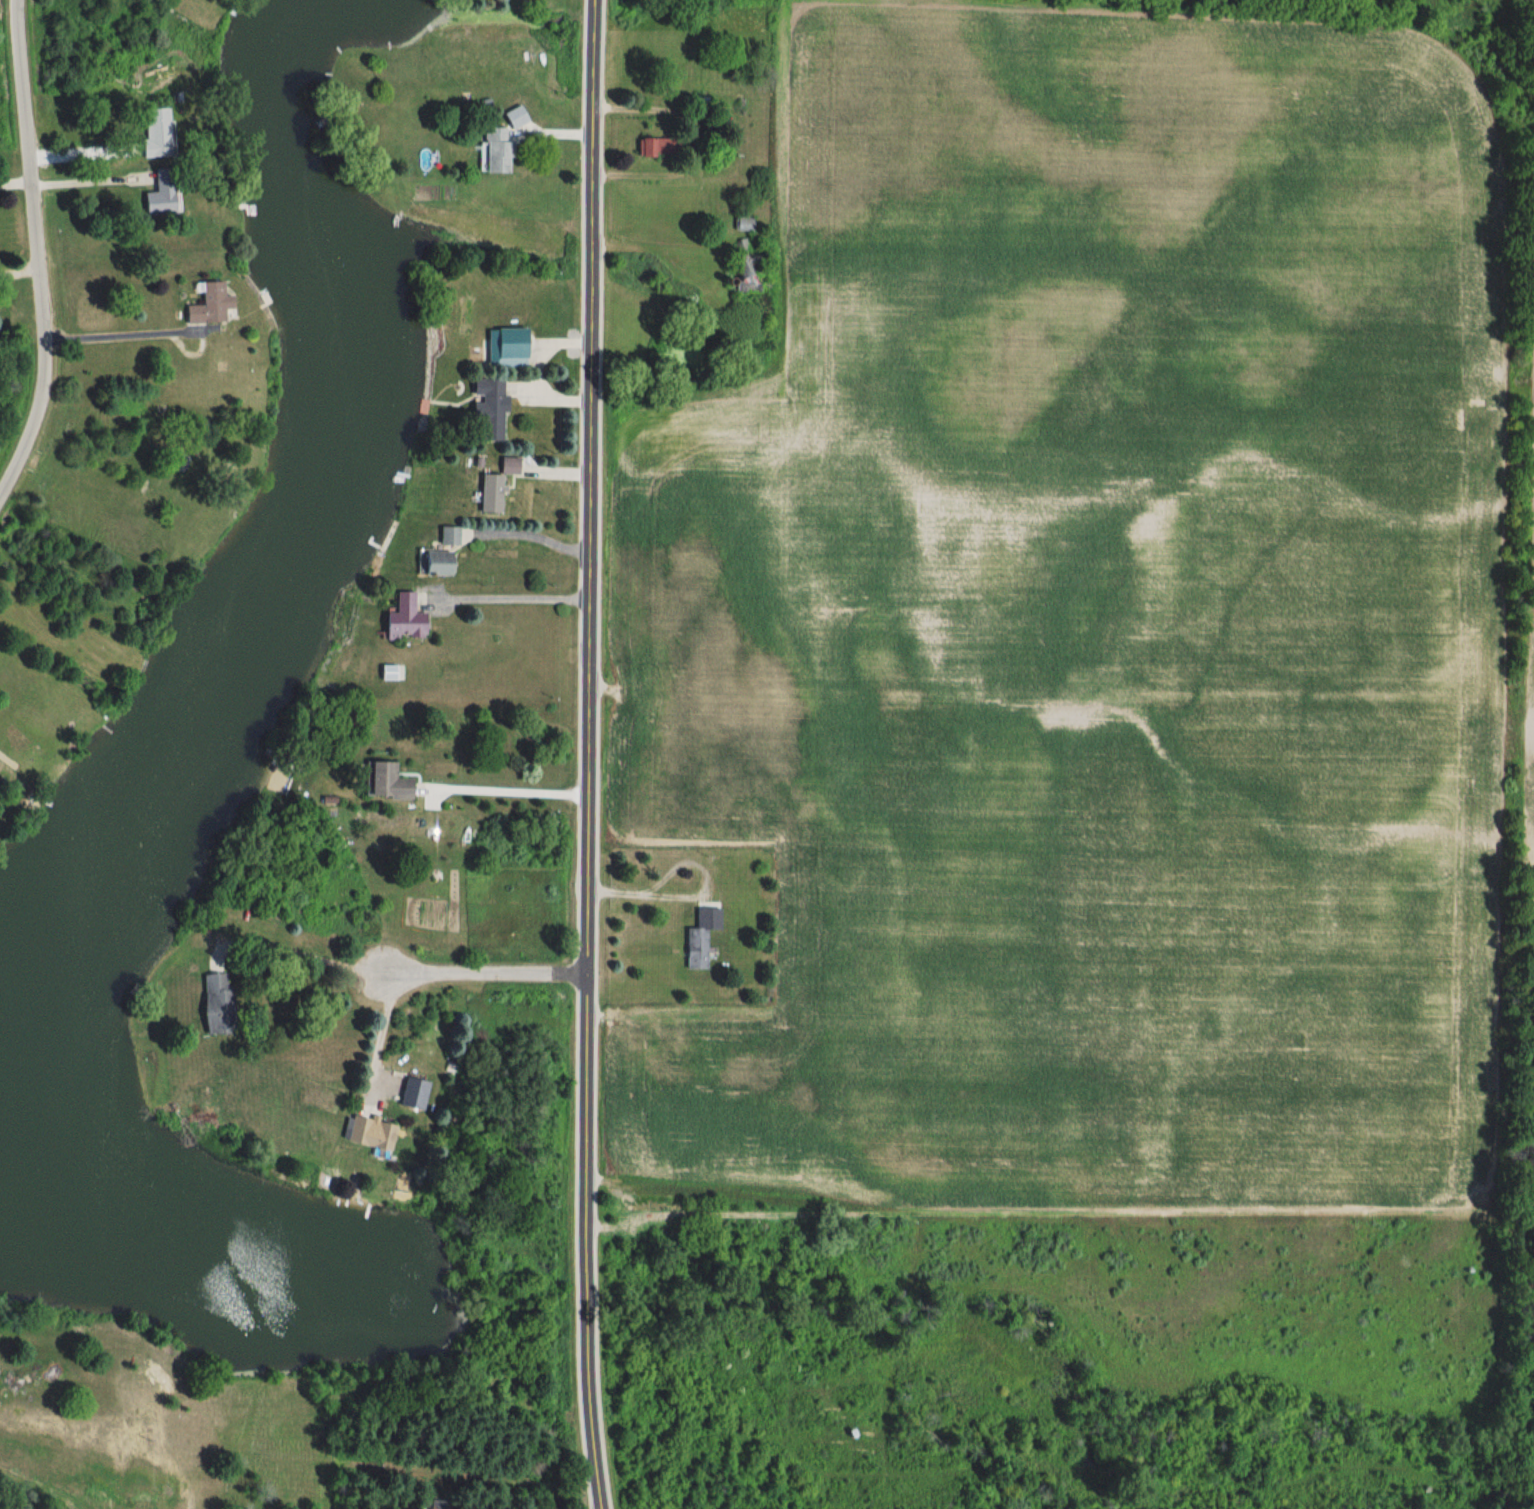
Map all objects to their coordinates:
building: (696, 101)
building: (154, 131)
building: (658, 147)
building: (496, 149)
road: (87, 181)
building: (158, 193)
building: (744, 223)
road: (38, 253)
building: (749, 271)
building: (207, 305)
road: (149, 333)
building: (489, 411)
building: (508, 465)
building: (489, 493)
road: (532, 535)
building: (447, 536)
building: (435, 563)
road: (511, 596)
building: (403, 619)
building: (387, 673)
road: (589, 754)
building: (386, 782)
road: (508, 789)
road: (693, 893)
building: (701, 936)
road: (295, 952)
road: (489, 973)
building: (215, 1002)
road: (382, 1032)
building: (368, 1134)
building: (661, 1210)
building: (441, 1504)

